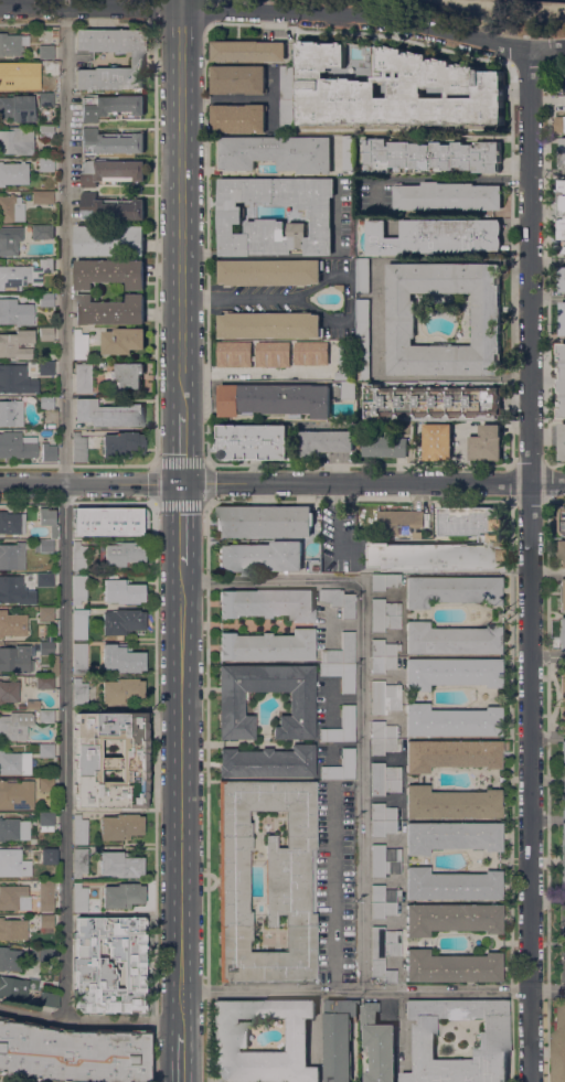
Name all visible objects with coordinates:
road: (181, 3)
road: (241, 4)
road: (478, 4)
road: (154, 11)
road: (284, 11)
road: (205, 13)
road: (76, 22)
building: (54, 32)
road: (181, 42)
building: (12, 43)
building: (45, 51)
building: (247, 51)
building: (137, 58)
building: (45, 65)
building: (7, 75)
building: (238, 79)
building: (564, 81)
building: (394, 89)
building: (287, 97)
building: (46, 98)
building: (111, 106)
building: (18, 107)
building: (238, 118)
building: (559, 125)
building: (46, 131)
building: (17, 140)
building: (110, 142)
building: (277, 153)
building: (349, 153)
building: (562, 153)
building: (431, 156)
building: (46, 164)
building: (111, 171)
building: (14, 172)
road: (454, 180)
building: (43, 196)
building: (447, 196)
building: (11, 208)
building: (111, 208)
building: (562, 213)
building: (231, 217)
building: (42, 231)
building: (435, 236)
building: (10, 239)
building: (109, 242)
road: (154, 242)
road: (205, 245)
road: (181, 246)
building: (564, 253)
road: (546, 261)
building: (110, 272)
building: (269, 272)
building: (24, 274)
building: (363, 276)
building: (562, 279)
building: (340, 287)
road: (238, 298)
building: (46, 299)
road: (547, 299)
building: (15, 311)
building: (110, 311)
road: (379, 317)
building: (486, 317)
building: (563, 319)
building: (269, 325)
building: (46, 333)
building: (362, 340)
building: (124, 341)
building: (15, 344)
building: (78, 344)
building: (311, 353)
building: (235, 354)
building: (274, 354)
building: (344, 361)
building: (45, 367)
road: (255, 373)
building: (128, 376)
building: (82, 377)
building: (562, 379)
building: (15, 381)
building: (348, 390)
building: (275, 399)
building: (431, 400)
building: (45, 401)
building: (11, 413)
building: (106, 414)
building: (562, 441)
building: (255, 442)
building: (326, 442)
building: (437, 442)
building: (385, 443)
building: (487, 443)
building: (18, 444)
building: (122, 444)
building: (82, 446)
road: (182, 450)
building: (49, 452)
road: (203, 462)
road: (77, 464)
traffic signals: (182, 483)
road: (282, 483)
road: (78, 496)
road: (65, 514)
building: (45, 516)
road: (335, 518)
building: (403, 519)
building: (79, 521)
building: (265, 521)
building: (563, 521)
building: (12, 522)
building: (121, 522)
road: (182, 523)
building: (54, 531)
building: (491, 539)
building: (42, 545)
building: (124, 553)
building: (562, 554)
building: (12, 556)
building: (79, 556)
building: (262, 557)
road: (530, 565)
building: (316, 566)
road: (547, 575)
building: (45, 579)
building: (384, 579)
building: (79, 588)
building: (14, 589)
building: (450, 590)
building: (124, 591)
building: (562, 596)
building: (339, 601)
building: (268, 603)
building: (46, 613)
building: (385, 614)
building: (122, 622)
building: (12, 623)
building: (81, 623)
building: (562, 633)
building: (50, 639)
building: (451, 639)
building: (268, 645)
building: (46, 647)
building: (341, 650)
building: (382, 655)
road: (547, 656)
building: (17, 657)
building: (79, 657)
building: (122, 658)
building: (54, 664)
building: (451, 672)
building: (341, 674)
building: (44, 682)
building: (9, 690)
building: (122, 690)
building: (79, 693)
road: (361, 696)
building: (385, 696)
building: (562, 696)
building: (31, 704)
building: (231, 708)
building: (46, 715)
building: (349, 716)
building: (452, 720)
building: (15, 725)
building: (384, 738)
building: (44, 749)
building: (451, 753)
building: (110, 760)
building: (268, 761)
building: (15, 762)
building: (341, 767)
building: (384, 778)
building: (563, 779)
building: (46, 784)
road: (206, 792)
building: (17, 793)
road: (153, 793)
road: (181, 796)
building: (451, 803)
building: (383, 819)
road: (547, 819)
building: (46, 821)
building: (120, 826)
building: (15, 829)
building: (81, 829)
building: (451, 836)
building: (46, 851)
building: (384, 860)
building: (563, 860)
building: (79, 861)
building: (13, 864)
building: (120, 864)
building: (267, 880)
building: (452, 885)
road: (333, 887)
building: (46, 894)
building: (122, 894)
building: (12, 896)
building: (79, 898)
building: (383, 901)
building: (451, 918)
building: (45, 921)
building: (562, 921)
building: (13, 929)
building: (384, 951)
building: (47, 955)
building: (10, 958)
building: (562, 962)
building: (451, 966)
building: (93, 967)
building: (13, 987)
road: (373, 990)
building: (47, 998)
road: (89, 1021)
building: (231, 1033)
building: (339, 1038)
building: (491, 1039)
building: (559, 1040)
building: (379, 1046)
building: (72, 1054)
road: (181, 1057)

